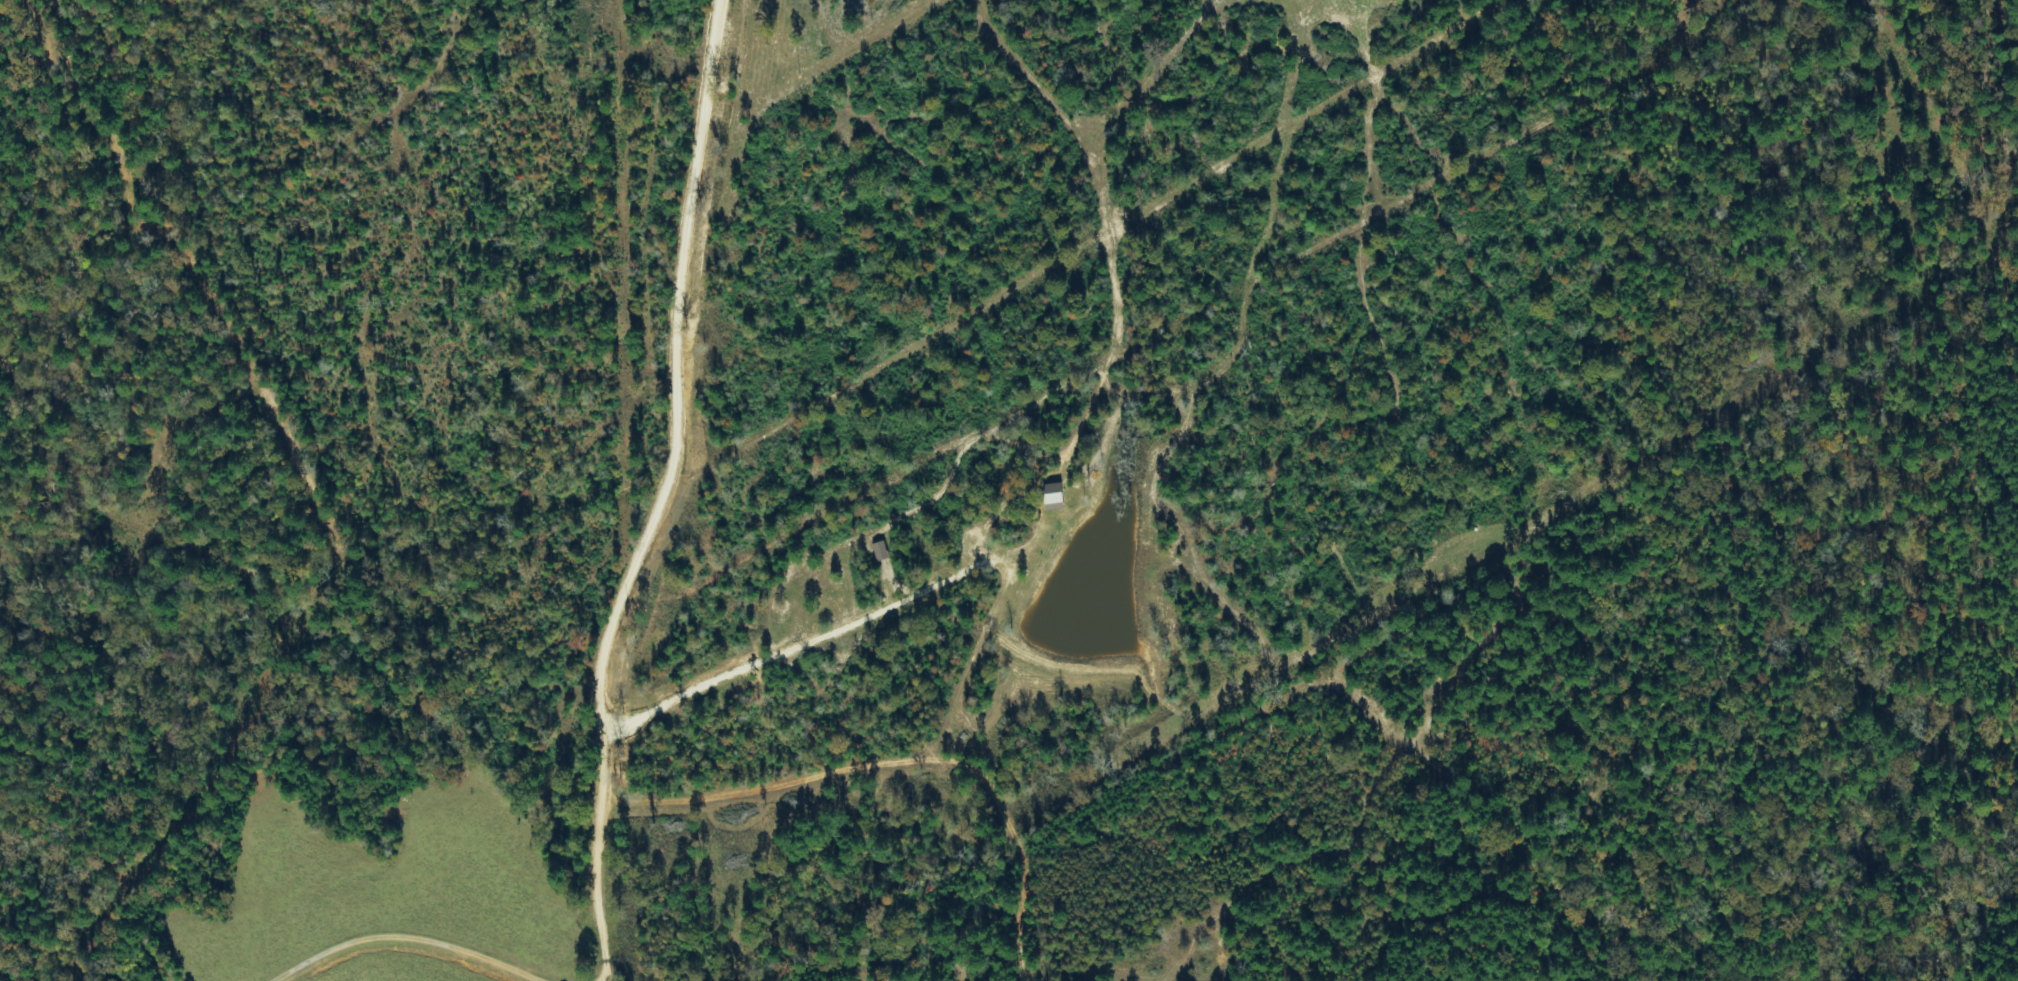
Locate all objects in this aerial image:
road: (701, 89)
road: (628, 493)
building: (1054, 496)
building: (881, 551)
road: (377, 776)
road: (591, 894)

